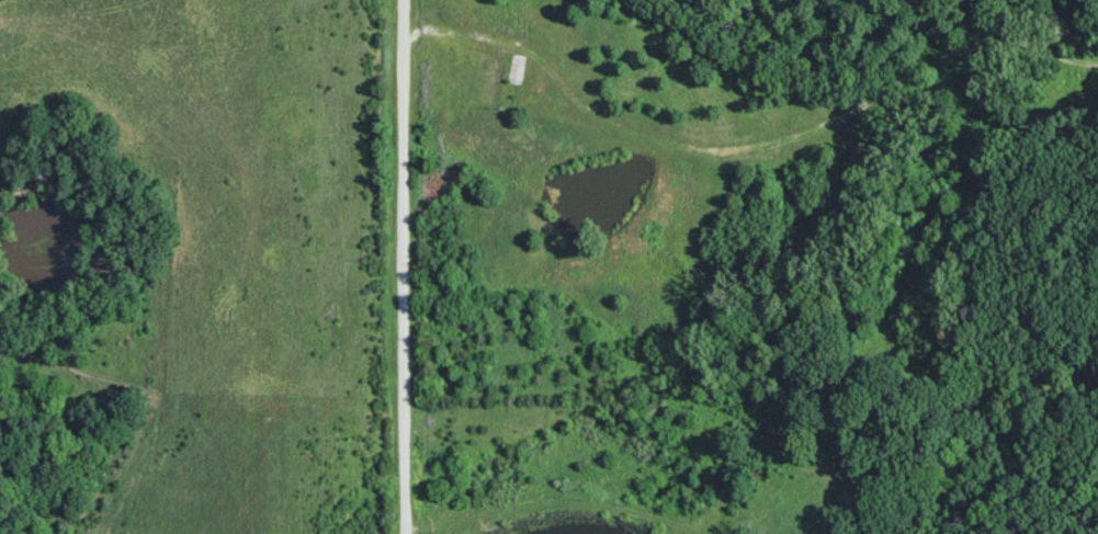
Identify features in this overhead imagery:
road: (404, 266)

